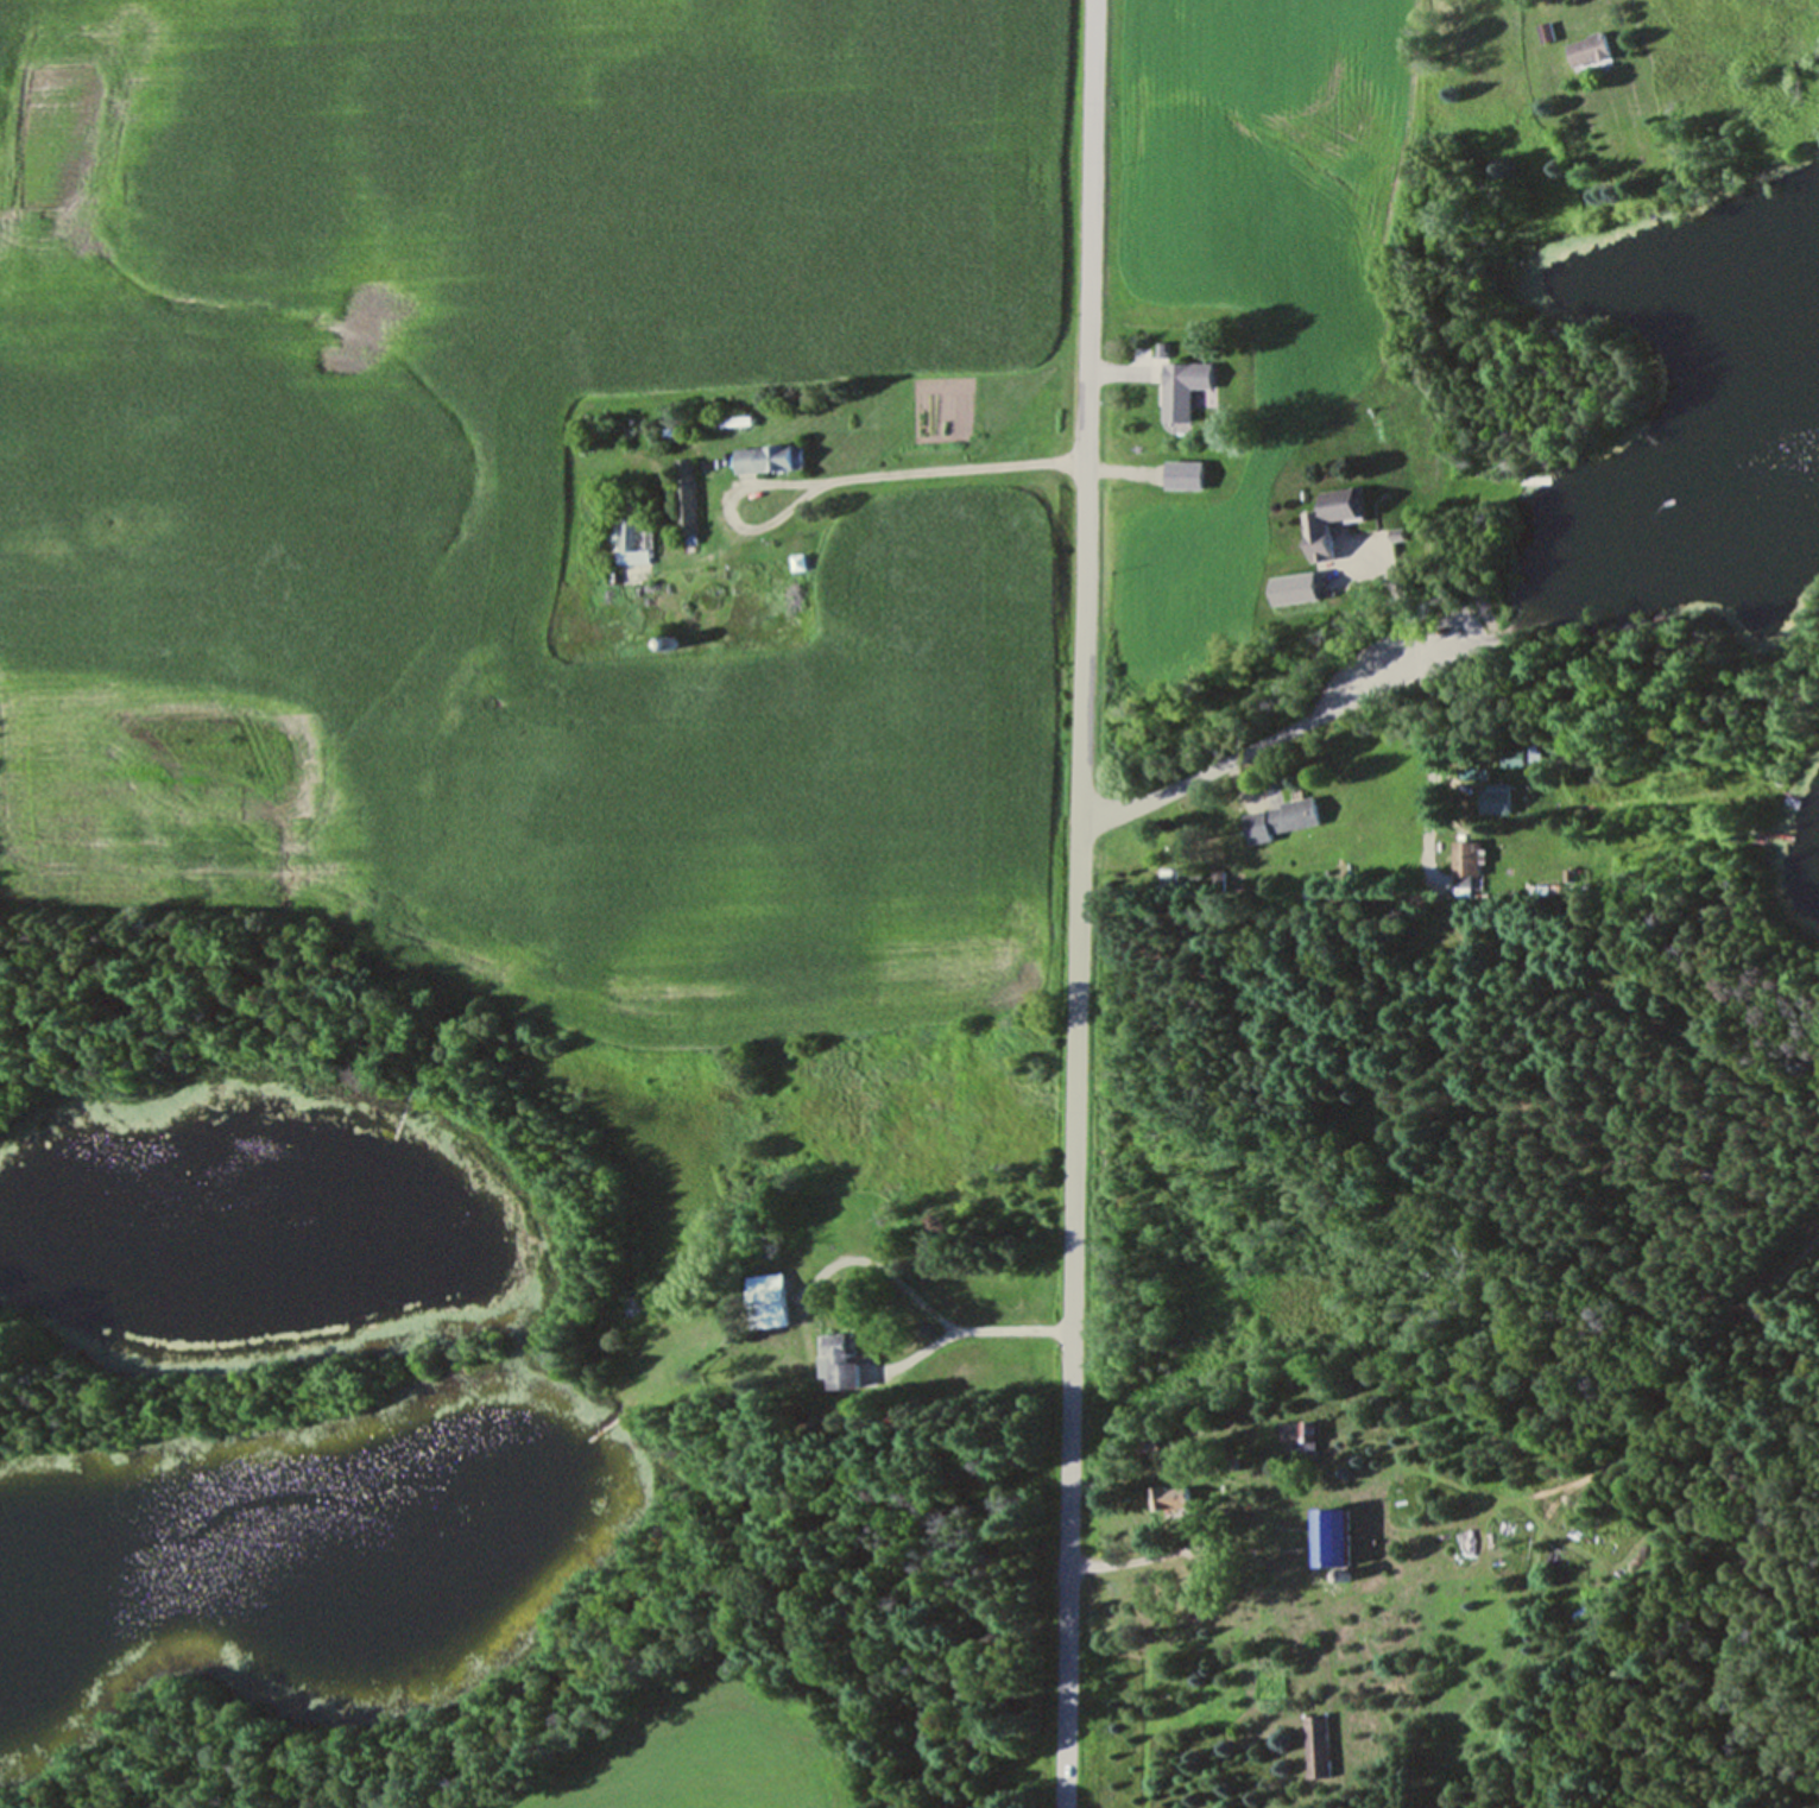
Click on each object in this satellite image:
building: (1549, 32)
building: (1597, 51)
building: (1192, 387)
building: (772, 459)
road: (839, 479)
building: (1340, 513)
building: (626, 542)
road: (1271, 738)
building: (1520, 757)
road: (1430, 765)
building: (1501, 797)
building: (1286, 818)
building: (1472, 858)
road: (1080, 903)
building: (773, 1298)
road: (1012, 1327)
building: (848, 1364)
building: (1310, 1434)
building: (1180, 1499)
building: (1340, 1536)
road: (1148, 1559)
building: (1319, 1746)
building: (885, 1791)

